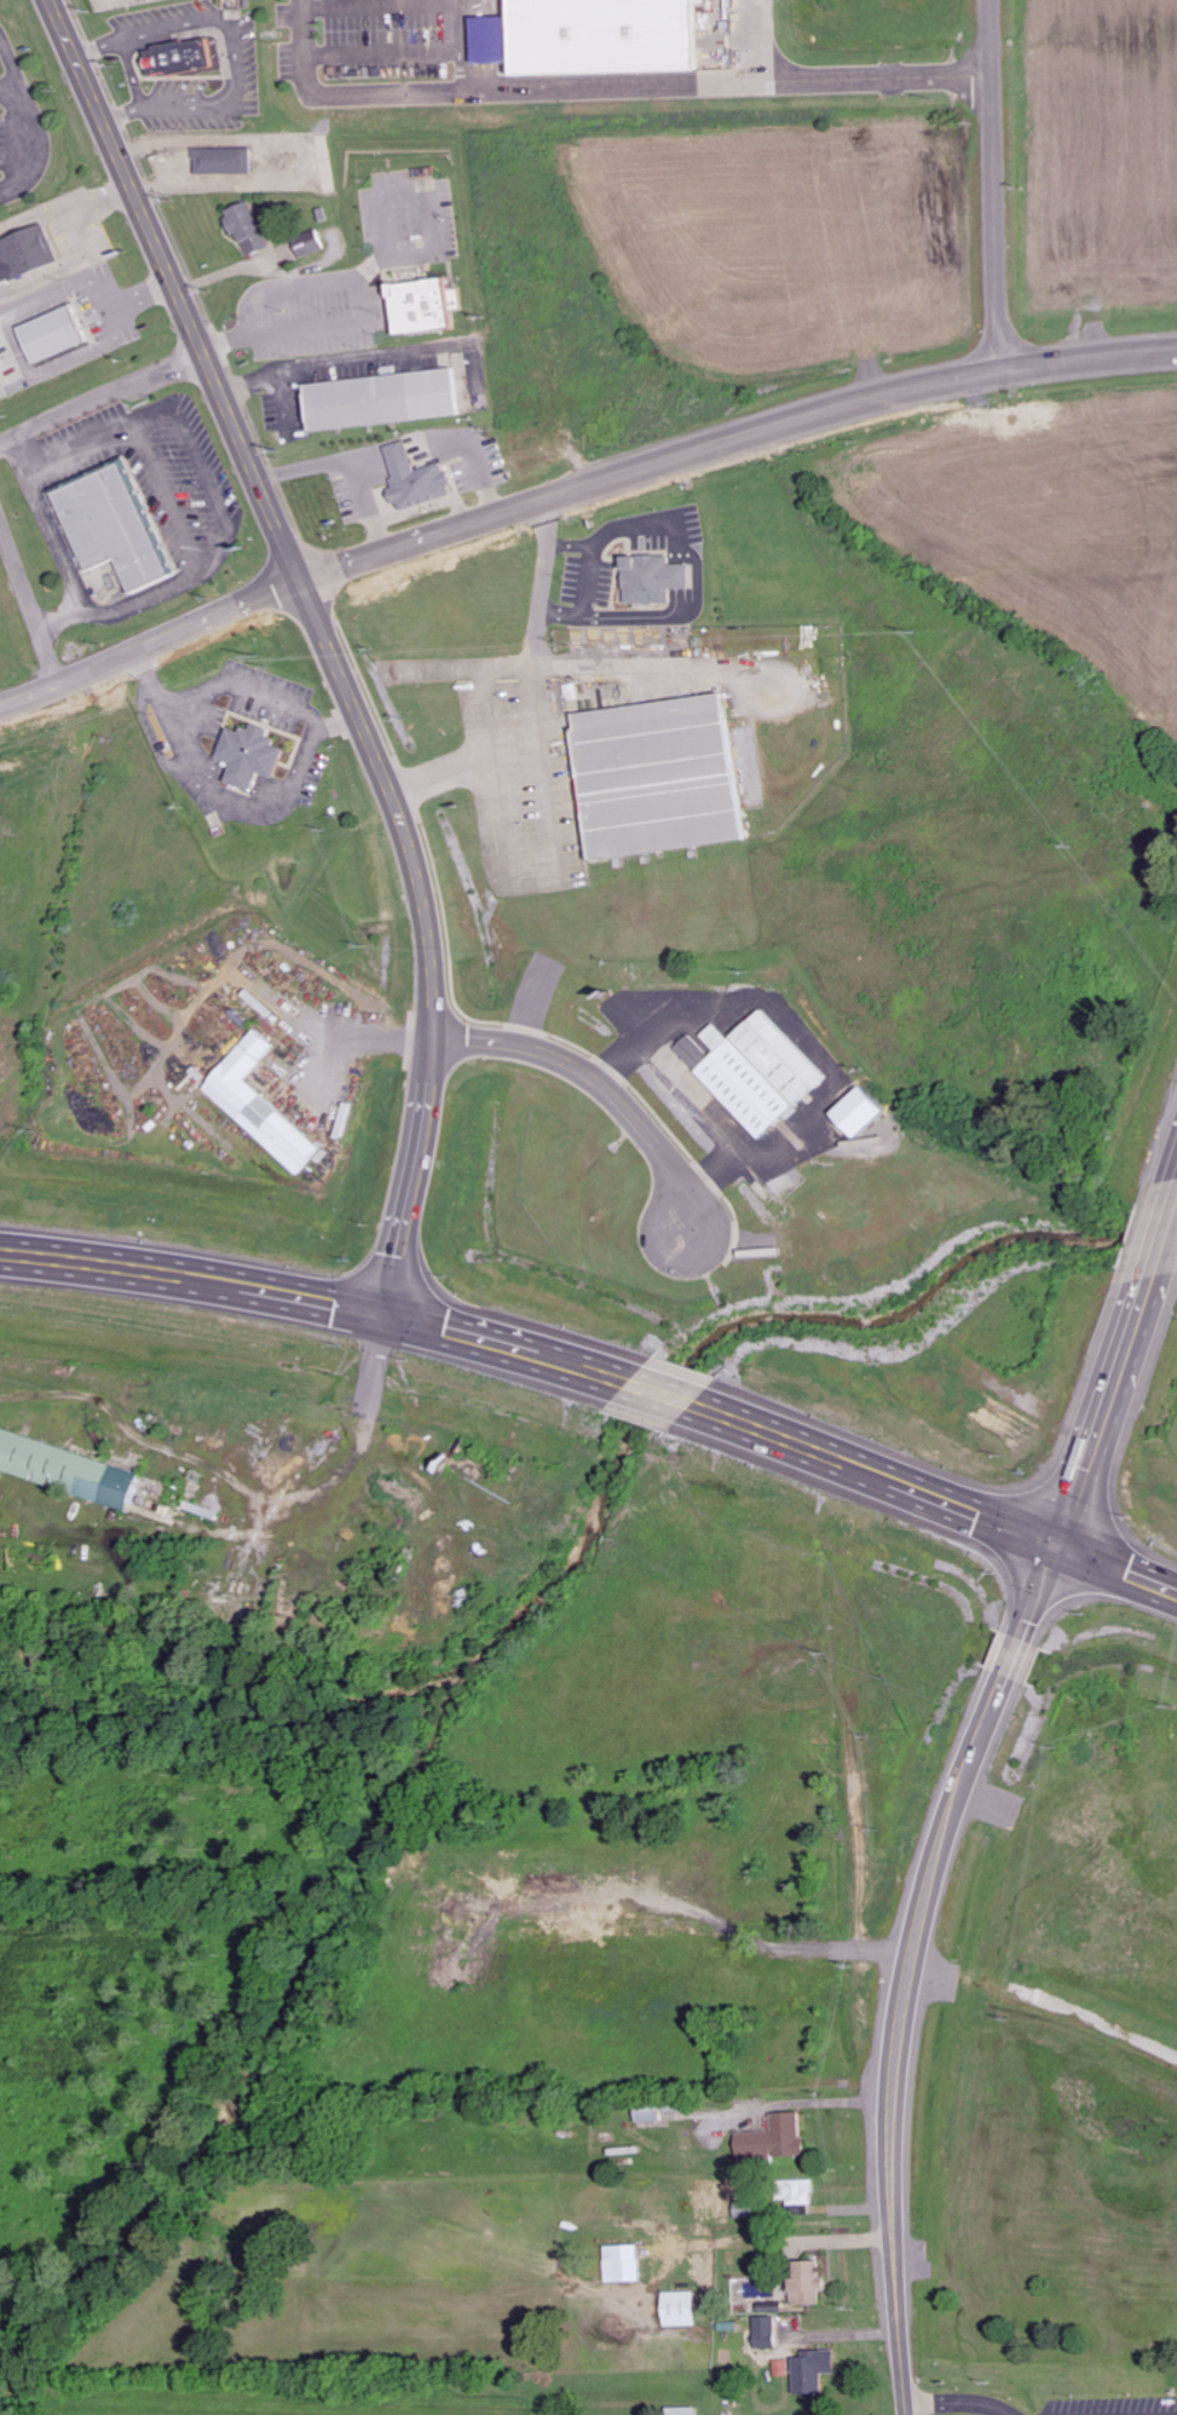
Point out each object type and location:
road: (383, 6)
building: (611, 34)
building: (500, 38)
road: (465, 46)
road: (383, 53)
building: (175, 56)
road: (877, 81)
road: (13, 87)
road: (525, 88)
road: (88, 90)
road: (39, 120)
building: (221, 160)
road: (994, 186)
building: (244, 226)
building: (307, 243)
building: (24, 253)
building: (417, 305)
building: (50, 333)
road: (100, 398)
building: (379, 398)
road: (732, 440)
building: (415, 479)
building: (108, 525)
building: (653, 578)
road: (317, 621)
road: (149, 635)
road: (151, 652)
building: (247, 755)
building: (653, 776)
road: (462, 1038)
building: (751, 1071)
road: (621, 1097)
building: (259, 1106)
building: (855, 1112)
road: (412, 1193)
road: (1164, 1235)
road: (195, 1275)
traffic signals: (390, 1308)
road: (473, 1332)
road: (593, 1368)
road: (662, 1390)
road: (1106, 1411)
building: (65, 1470)
road: (877, 1471)
traffic signals: (1061, 1546)
road: (1119, 1568)
road: (1042, 1591)
road: (1016, 1653)
road: (1000, 1688)
road: (896, 2053)
building: (646, 2114)
building: (772, 2139)
building: (796, 2192)
building: (621, 2263)
building: (804, 2283)
building: (677, 2309)
building: (765, 2332)
building: (806, 2371)
road: (958, 2402)
parking lot: (1117, 2405)
building: (680, 2410)

